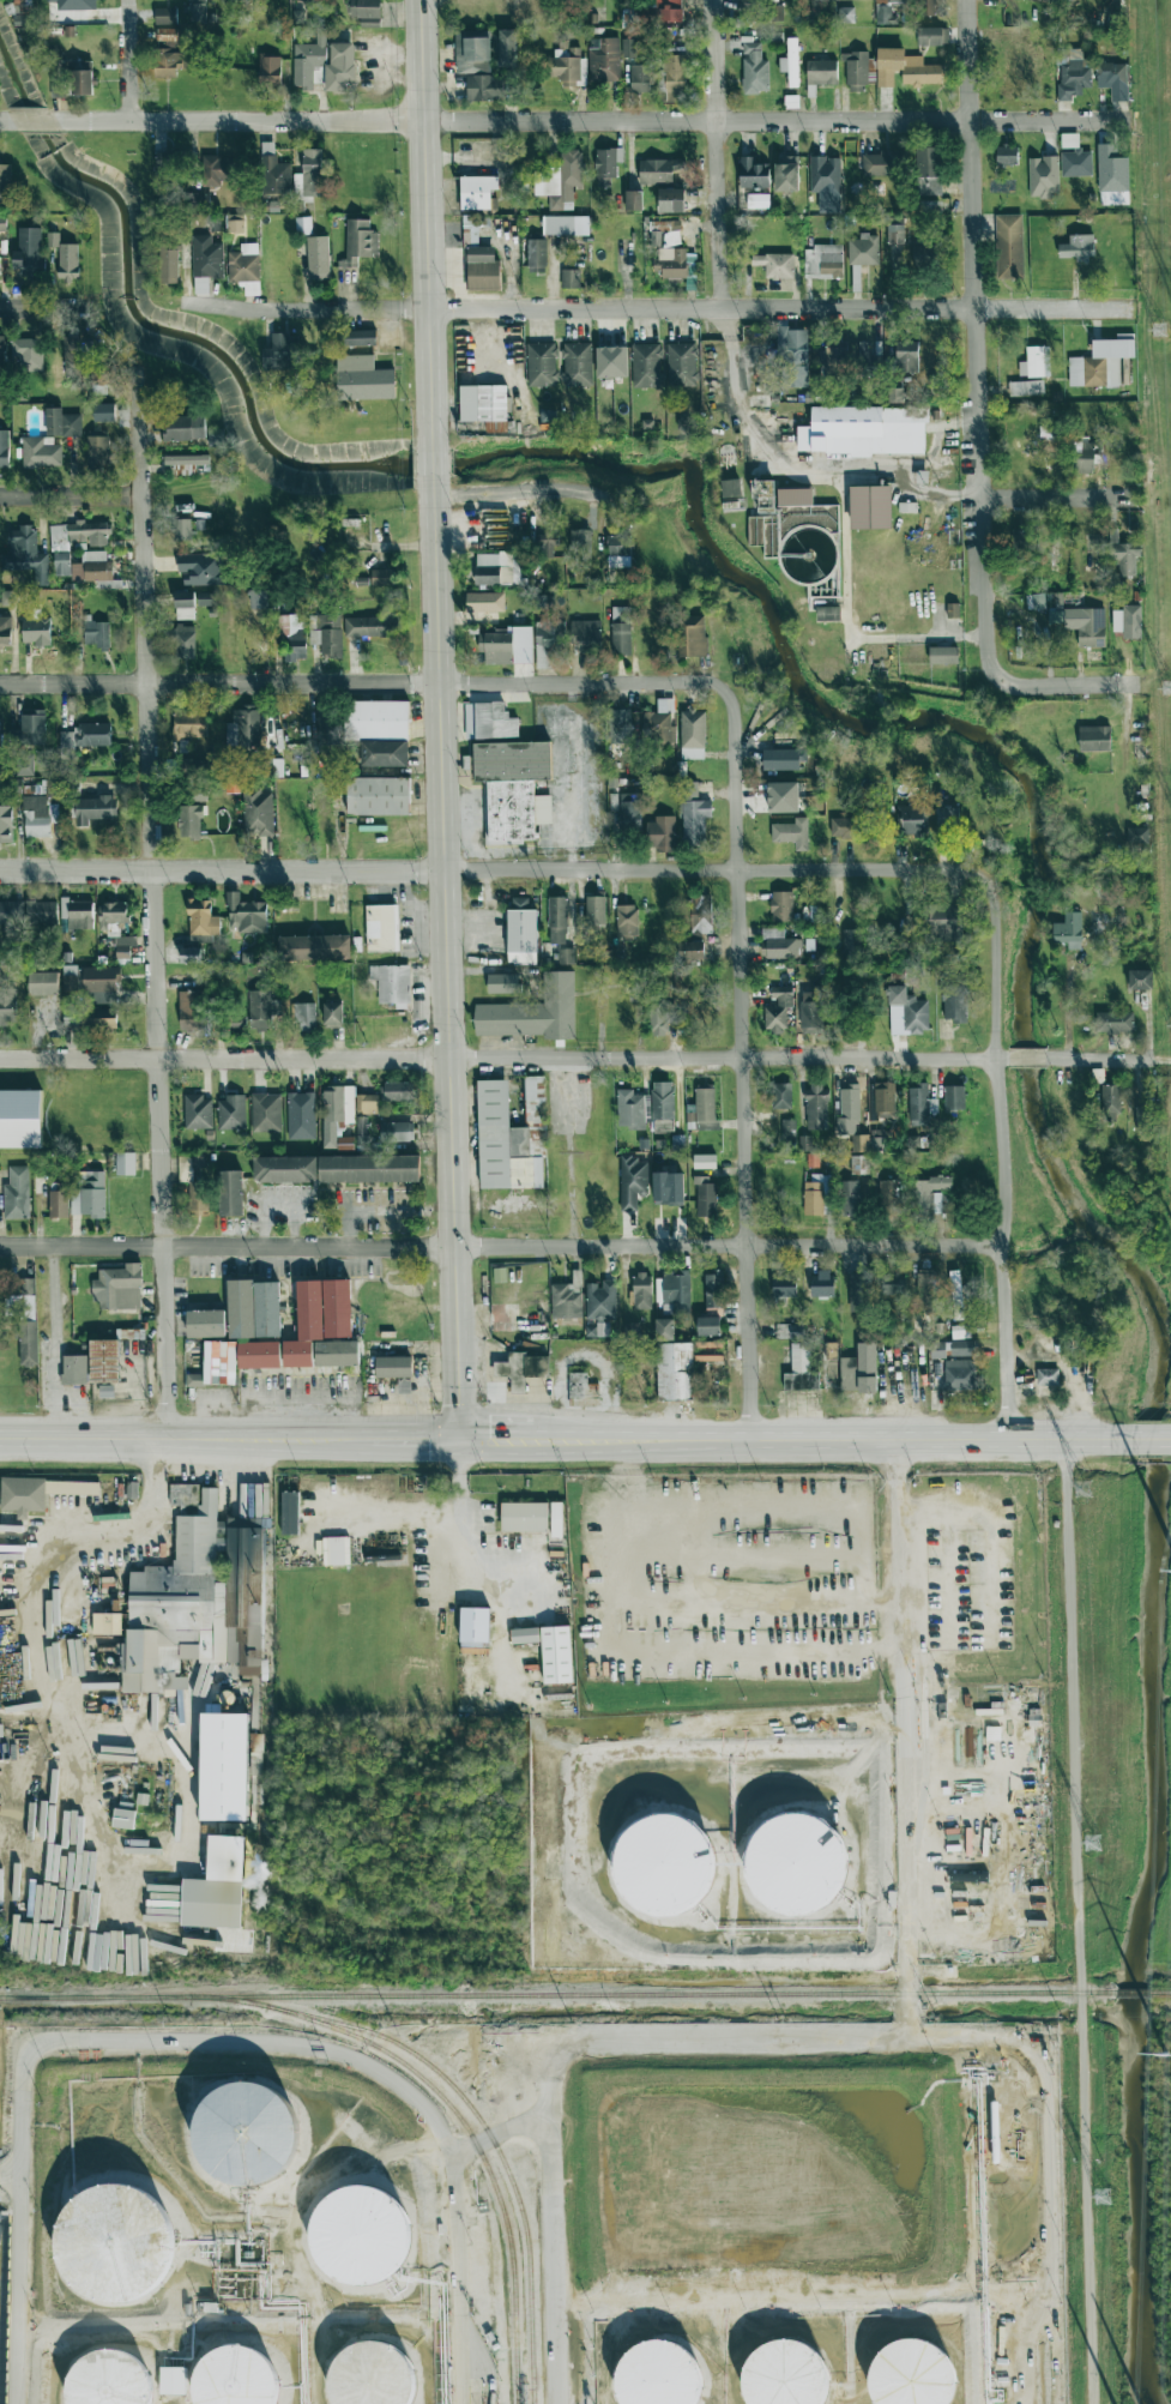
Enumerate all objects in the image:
building: (774, 0)
building: (895, 0)
building: (1048, 0)
building: (309, 2)
building: (76, 4)
building: (744, 5)
building: (23, 6)
building: (926, 7)
building: (364, 8)
building: (197, 10)
building: (659, 12)
building: (846, 14)
building: (883, 14)
building: (165, 16)
building: (932, 36)
building: (629, 47)
building: (507, 48)
building: (472, 54)
building: (168, 55)
road: (127, 61)
building: (604, 61)
building: (790, 62)
building: (324, 64)
building: (568, 66)
building: (754, 68)
building: (905, 68)
building: (270, 70)
building: (858, 70)
building: (821, 72)
building: (1015, 72)
building: (1072, 73)
building: (82, 77)
building: (640, 78)
building: (675, 78)
building: (1113, 78)
building: (484, 88)
road: (590, 120)
road: (35, 122)
road: (7, 123)
road: (714, 153)
building: (1007, 155)
building: (1074, 156)
building: (165, 163)
building: (881, 163)
building: (608, 164)
building: (1112, 169)
building: (216, 170)
building: (659, 170)
building: (312, 171)
building: (929, 171)
building: (753, 173)
building: (786, 173)
building: (825, 175)
building: (276, 176)
building: (1044, 176)
building: (5, 179)
building: (561, 180)
building: (477, 192)
building: (633, 199)
building: (671, 199)
building: (757, 200)
building: (930, 206)
road: (427, 222)
building: (2, 223)
building: (235, 223)
building: (303, 224)
building: (566, 224)
building: (894, 231)
building: (470, 237)
building: (52, 239)
building: (358, 242)
building: (1009, 246)
building: (1078, 246)
building: (863, 249)
building: (29, 252)
building: (672, 253)
building: (536, 255)
building: (924, 255)
building: (207, 257)
building: (318, 258)
building: (68, 261)
building: (822, 261)
building: (243, 263)
building: (775, 265)
building: (169, 266)
building: (482, 269)
building: (571, 278)
building: (200, 285)
building: (252, 288)
road: (657, 308)
road: (44, 309)
power tower: (1163, 332)
building: (360, 337)
road: (973, 341)
building: (1, 350)
building: (792, 350)
building: (282, 353)
building: (28, 354)
building: (76, 354)
building: (837, 356)
building: (906, 356)
building: (611, 361)
building: (1034, 362)
building: (1100, 362)
building: (541, 363)
building: (577, 363)
building: (681, 364)
building: (646, 366)
building: (103, 378)
building: (363, 379)
building: (935, 386)
building: (1026, 387)
building: (895, 394)
building: (484, 405)
building: (104, 411)
building: (62, 422)
building: (185, 427)
building: (863, 430)
building: (1050, 430)
building: (216, 438)
building: (4, 448)
building: (97, 448)
building: (41, 452)
building: (1082, 456)
building: (186, 459)
road: (434, 462)
road: (1056, 492)
road: (515, 493)
building: (763, 493)
road: (70, 494)
building: (793, 496)
road: (840, 500)
building: (870, 507)
building: (183, 529)
building: (78, 534)
building: (580, 542)
building: (1024, 542)
building: (547, 543)
building: (23, 550)
building: (618, 550)
building: (1122, 554)
building: (60, 564)
building: (92, 567)
building: (200, 568)
building: (496, 568)
building: (381, 577)
building: (7, 597)
building: (205, 598)
building: (259, 598)
building: (544, 601)
building: (1036, 601)
building: (484, 602)
building: (185, 605)
building: (952, 609)
building: (620, 614)
building: (828, 614)
building: (1128, 621)
building: (1086, 625)
building: (369, 626)
building: (5, 631)
building: (36, 631)
building: (96, 633)
building: (326, 634)
building: (586, 635)
building: (692, 635)
building: (291, 637)
building: (621, 638)
building: (183, 641)
building: (548, 641)
building: (507, 645)
building: (943, 655)
road: (1068, 679)
road: (362, 681)
building: (378, 719)
building: (489, 721)
building: (189, 723)
building: (659, 723)
building: (618, 727)
building: (243, 728)
building: (32, 729)
building: (693, 734)
building: (333, 736)
building: (84, 737)
building: (1094, 737)
building: (0, 753)
building: (384, 753)
building: (784, 758)
building: (24, 761)
building: (195, 779)
building: (233, 785)
building: (512, 789)
building: (378, 795)
building: (783, 796)
building: (629, 808)
building: (92, 809)
building: (256, 811)
building: (693, 814)
building: (36, 815)
building: (947, 818)
building: (191, 820)
building: (912, 820)
building: (845, 827)
building: (663, 832)
building: (792, 833)
building: (1136, 835)
road: (488, 868)
road: (149, 902)
building: (781, 905)
building: (596, 910)
building: (11, 911)
building: (41, 912)
building: (77, 914)
building: (700, 914)
building: (246, 915)
building: (201, 918)
building: (557, 920)
building: (626, 921)
building: (943, 921)
building: (381, 927)
building: (1068, 930)
building: (521, 932)
building: (851, 941)
building: (779, 944)
building: (314, 947)
building: (694, 950)
building: (191, 956)
road: (446, 956)
building: (566, 956)
road: (991, 964)
building: (680, 972)
building: (1140, 978)
building: (635, 982)
building: (43, 983)
building: (392, 983)
building: (502, 983)
building: (954, 1001)
building: (7, 1007)
building: (261, 1008)
building: (189, 1010)
building: (778, 1010)
building: (231, 1011)
building: (810, 1011)
building: (533, 1012)
building: (906, 1012)
building: (332, 1014)
building: (303, 1016)
building: (660, 1016)
building: (86, 1019)
building: (1115, 1022)
road: (503, 1058)
road: (1027, 1058)
road: (1098, 1058)
road: (1159, 1059)
road: (740, 1061)
building: (398, 1091)
building: (780, 1095)
building: (954, 1097)
building: (885, 1099)
building: (1109, 1101)
building: (367, 1103)
building: (919, 1103)
building: (338, 1104)
building: (663, 1105)
building: (816, 1107)
building: (849, 1107)
building: (705, 1108)
building: (632, 1109)
building: (198, 1111)
building: (266, 1111)
building: (231, 1113)
building: (301, 1115)
building: (20, 1117)
building: (1143, 1117)
building: (361, 1125)
building: (787, 1129)
building: (397, 1131)
building: (511, 1135)
building: (345, 1143)
building: (859, 1143)
building: (876, 1144)
building: (705, 1161)
building: (125, 1163)
building: (188, 1165)
building: (369, 1168)
building: (285, 1169)
building: (632, 1181)
building: (668, 1187)
building: (887, 1191)
building: (231, 1192)
building: (17, 1193)
building: (817, 1193)
building: (89, 1194)
building: (925, 1194)
building: (706, 1197)
building: (197, 1198)
building: (850, 1198)
building: (59, 1200)
building: (943, 1200)
road: (997, 1246)
road: (499, 1249)
building: (821, 1283)
building: (893, 1283)
building: (784, 1285)
building: (119, 1288)
building: (713, 1288)
building: (676, 1289)
building: (640, 1290)
building: (925, 1291)
building: (859, 1294)
building: (955, 1294)
building: (600, 1300)
building: (254, 1308)
building: (23, 1317)
building: (206, 1322)
building: (708, 1325)
building: (304, 1326)
building: (664, 1328)
building: (598, 1330)
building: (789, 1330)
road: (53, 1342)
building: (952, 1348)
building: (708, 1350)
building: (337, 1352)
building: (104, 1361)
building: (219, 1362)
building: (393, 1366)
building: (74, 1369)
building: (521, 1369)
building: (801, 1369)
building: (859, 1369)
building: (674, 1370)
building: (959, 1374)
building: (1048, 1376)
building: (194, 1380)
building: (404, 1385)
building: (581, 1386)
road: (195, 1434)
road: (425, 1434)
traffic signals: (459, 1434)
road: (496, 1434)
road: (835, 1434)
road: (1149, 1434)
road: (1166, 1435)
power tower: (1080, 1488)
building: (38, 1493)
building: (289, 1512)
building: (524, 1516)
road: (898, 1516)
building: (556, 1519)
road: (626, 1519)
road: (484, 1563)
building: (197, 1598)
road: (765, 1603)
building: (107, 1623)
building: (525, 1635)
road: (737, 1651)
building: (556, 1655)
road: (29, 1664)
building: (473, 1671)
building: (0, 1730)
road: (117, 1743)
building: (224, 1766)
road: (909, 1816)
building: (123, 1818)
power tower: (1091, 1842)
building: (664, 1861)
building: (798, 1864)
building: (216, 1886)
road: (1078, 1918)
railway: (1133, 1992)
railway: (1160, 1992)
railway: (557, 1994)
road: (795, 2036)
road: (137, 2041)
power tower: (1166, 2054)
railway: (470, 2105)
building: (246, 2134)
railway: (477, 2146)
road: (10, 2174)
power tower: (1101, 2193)
building: (358, 2237)
building: (111, 2243)
road: (458, 2278)
road: (803, 2300)
building: (790, 2374)
building: (659, 2375)
building: (369, 2376)
building: (916, 2376)
building: (109, 2378)
building: (233, 2378)
building: (173, 2380)

